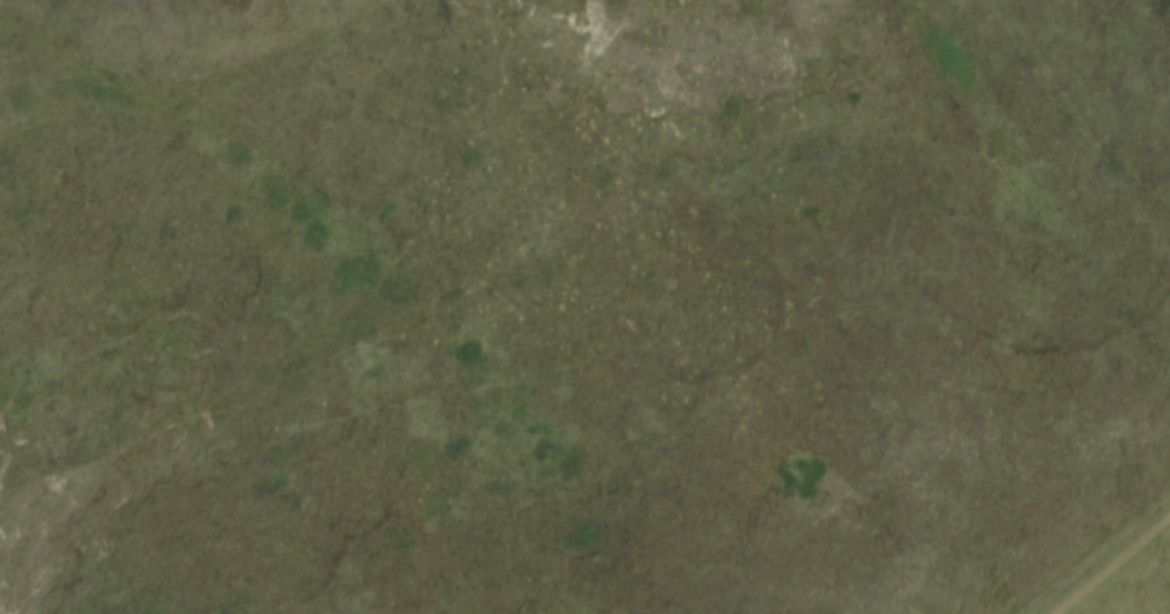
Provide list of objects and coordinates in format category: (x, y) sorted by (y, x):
road: (1111, 563)

